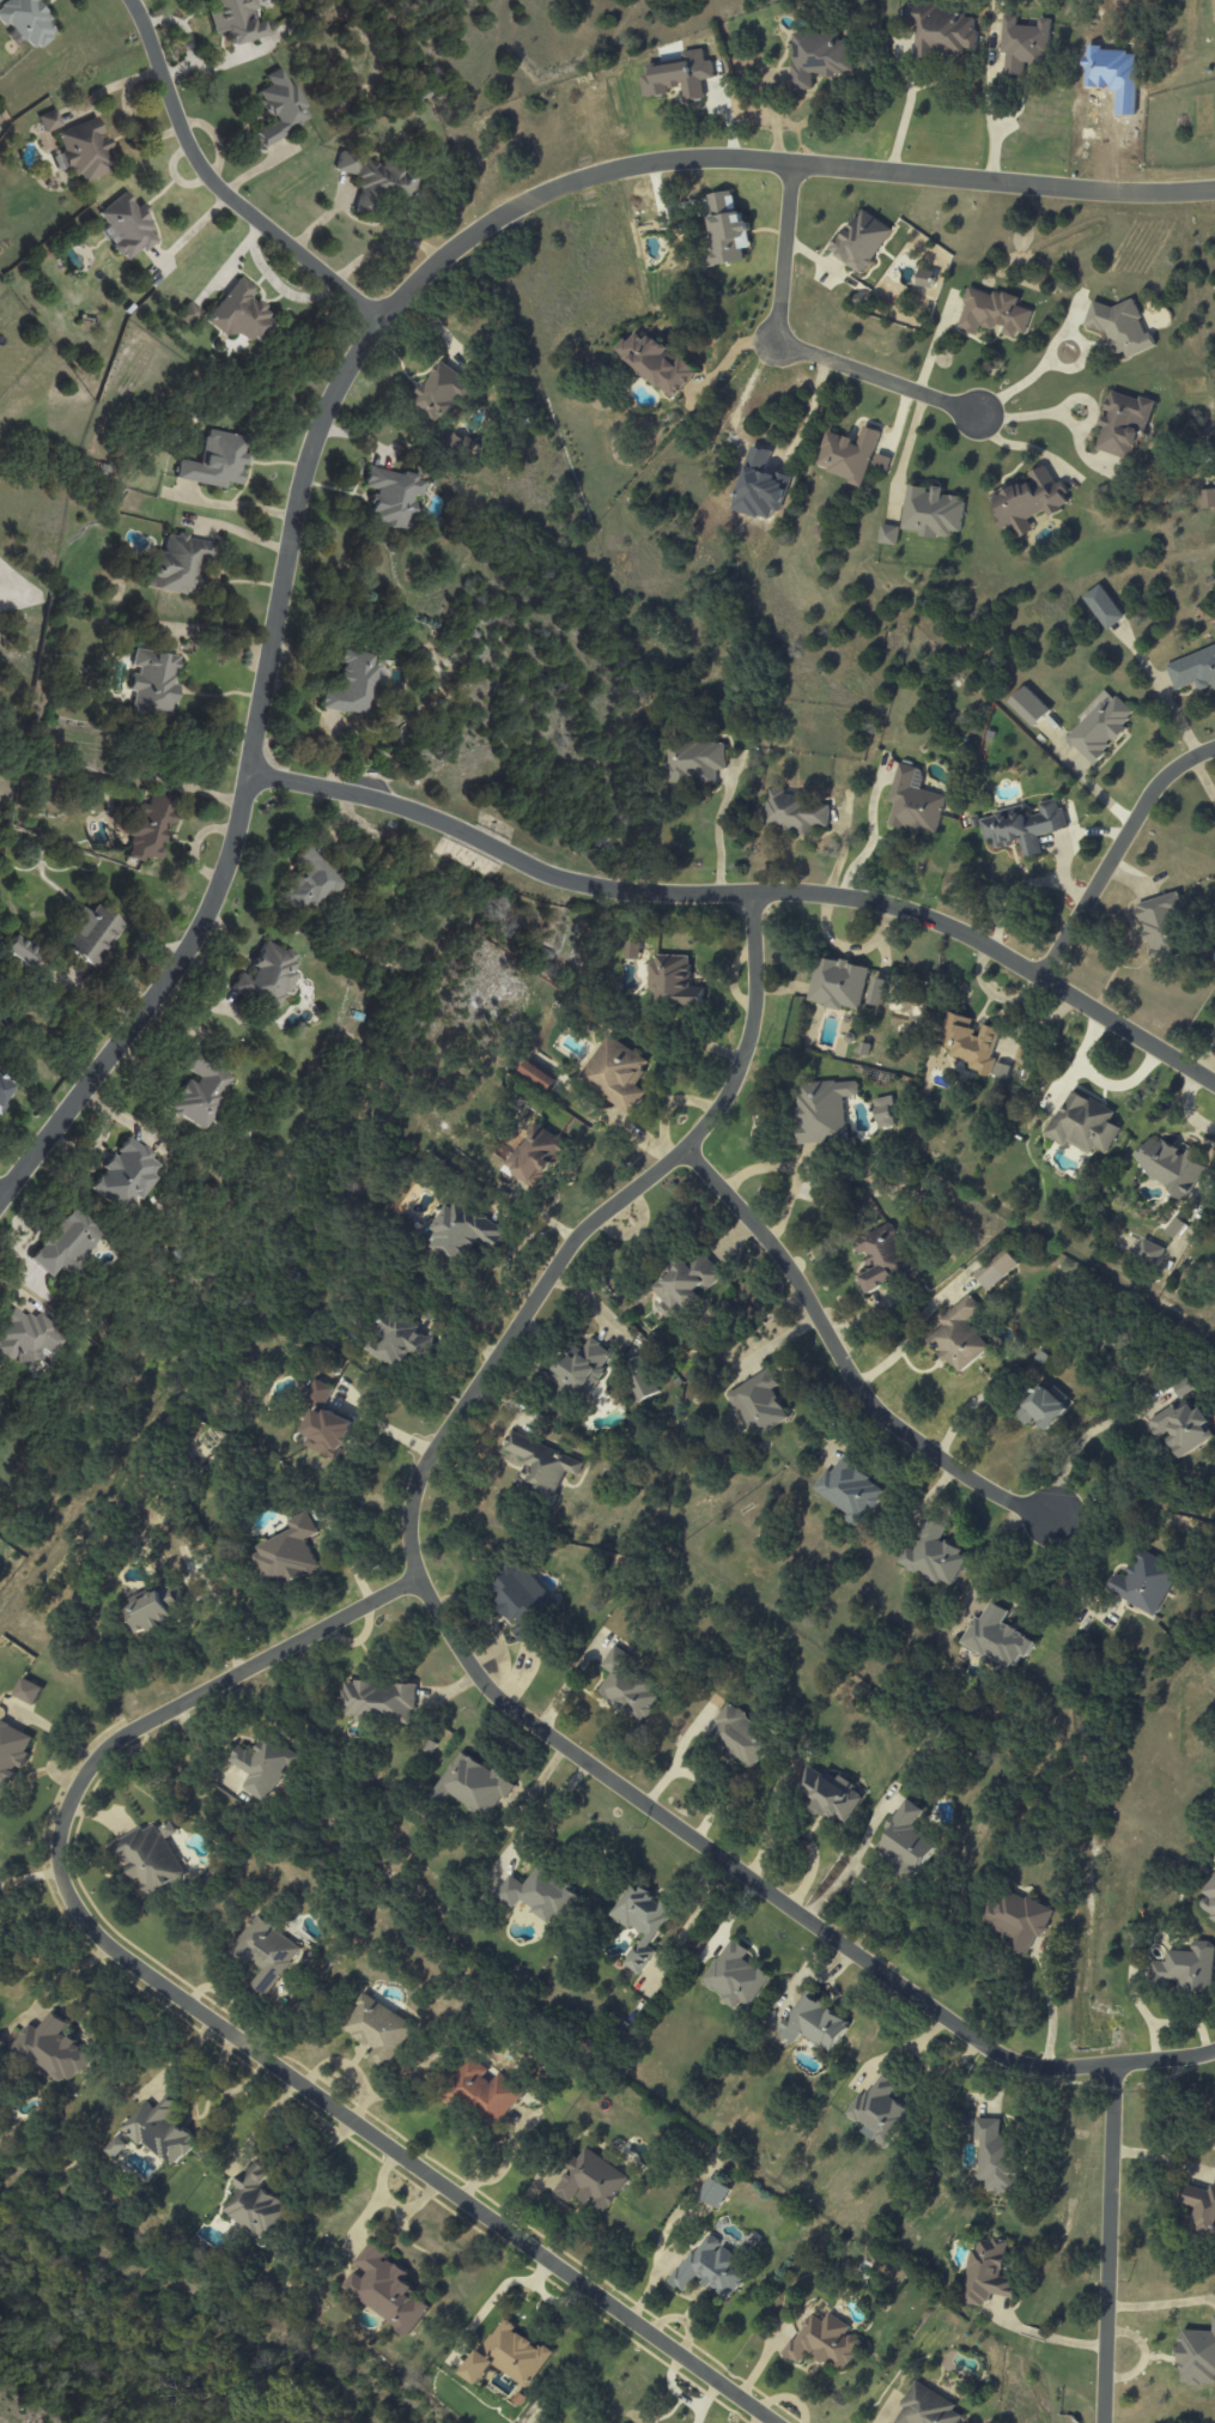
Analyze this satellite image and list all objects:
building: (233, 19)
building: (26, 20)
building: (941, 31)
building: (1023, 44)
building: (819, 57)
building: (679, 75)
building: (280, 105)
road: (906, 108)
building: (49, 120)
road: (991, 123)
building: (83, 150)
building: (346, 160)
road: (837, 165)
building: (382, 183)
road: (219, 184)
building: (126, 225)
building: (725, 230)
building: (861, 241)
building: (924, 278)
building: (188, 313)
building: (239, 313)
building: (994, 313)
building: (1122, 327)
road: (785, 349)
building: (657, 363)
building: (442, 392)
building: (1123, 424)
road: (1016, 446)
building: (848, 455)
building: (215, 460)
building: (881, 462)
building: (391, 496)
building: (1207, 498)
building: (1028, 501)
building: (931, 511)
building: (888, 534)
building: (177, 564)
building: (1104, 607)
building: (1193, 670)
building: (152, 680)
building: (351, 683)
building: (1028, 707)
road: (260, 717)
building: (1099, 726)
building: (694, 762)
building: (913, 802)
building: (795, 812)
building: (147, 826)
building: (1022, 826)
road: (716, 832)
road: (870, 837)
road: (1116, 849)
building: (310, 880)
road: (745, 894)
building: (1159, 926)
building: (91, 933)
building: (20, 950)
building: (265, 975)
building: (673, 982)
building: (837, 983)
building: (876, 992)
building: (972, 1046)
building: (616, 1074)
building: (536, 1076)
building: (198, 1088)
building: (4, 1089)
building: (822, 1110)
building: (883, 1111)
building: (1082, 1125)
building: (534, 1156)
building: (1168, 1167)
road: (791, 1170)
building: (126, 1174)
building: (462, 1231)
building: (65, 1243)
building: (1149, 1252)
building: (881, 1256)
building: (996, 1270)
building: (686, 1284)
building: (28, 1335)
building: (959, 1335)
building: (396, 1341)
road: (840, 1358)
building: (581, 1368)
building: (642, 1381)
building: (320, 1392)
building: (759, 1404)
building: (1044, 1406)
road: (383, 1425)
building: (1183, 1426)
building: (329, 1434)
road: (1076, 1440)
building: (541, 1465)
building: (850, 1491)
building: (287, 1552)
building: (934, 1556)
road: (1070, 1576)
building: (1144, 1582)
building: (522, 1598)
building: (157, 1609)
building: (996, 1637)
road: (461, 1655)
building: (628, 1688)
building: (28, 1691)
building: (378, 1701)
building: (740, 1732)
building: (12, 1752)
building: (265, 1767)
building: (472, 1785)
building: (832, 1793)
road: (549, 1800)
building: (906, 1841)
building: (151, 1860)
road: (29, 1874)
building: (1211, 1894)
building: (540, 1895)
road: (698, 1907)
building: (642, 1918)
building: (1015, 1920)
building: (266, 1952)
building: (1187, 1967)
building: (737, 1974)
road: (60, 1977)
road: (201, 2016)
building: (814, 2023)
building: (379, 2030)
building: (1, 2046)
building: (51, 2049)
building: (484, 2094)
building: (879, 2110)
building: (160, 2130)
building: (115, 2148)
building: (995, 2157)
building: (590, 2181)
building: (713, 2193)
building: (257, 2204)
building: (1202, 2209)
road: (1107, 2243)
building: (711, 2267)
building: (986, 2273)
building: (387, 2289)
road: (1047, 2337)
building: (824, 2342)
building: (508, 2356)
building: (1197, 2356)
building: (925, 2407)

